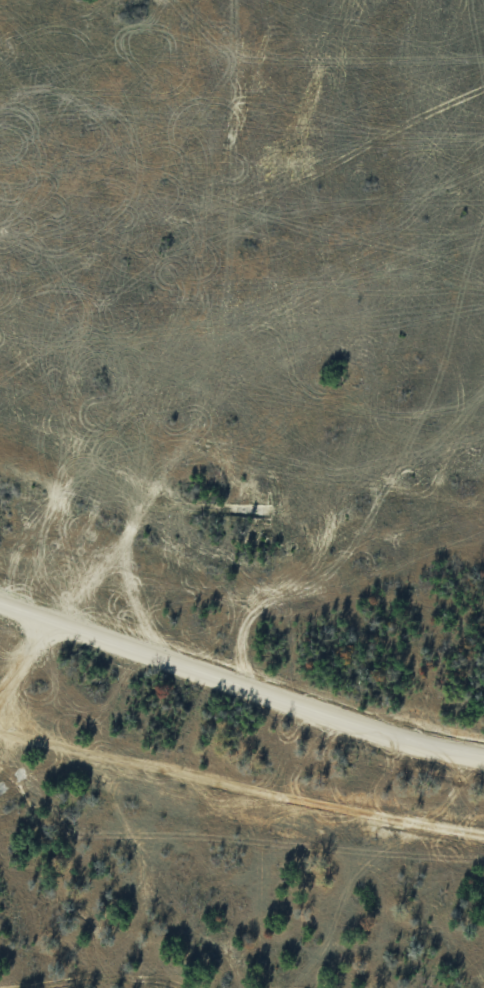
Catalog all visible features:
road: (242, 681)

